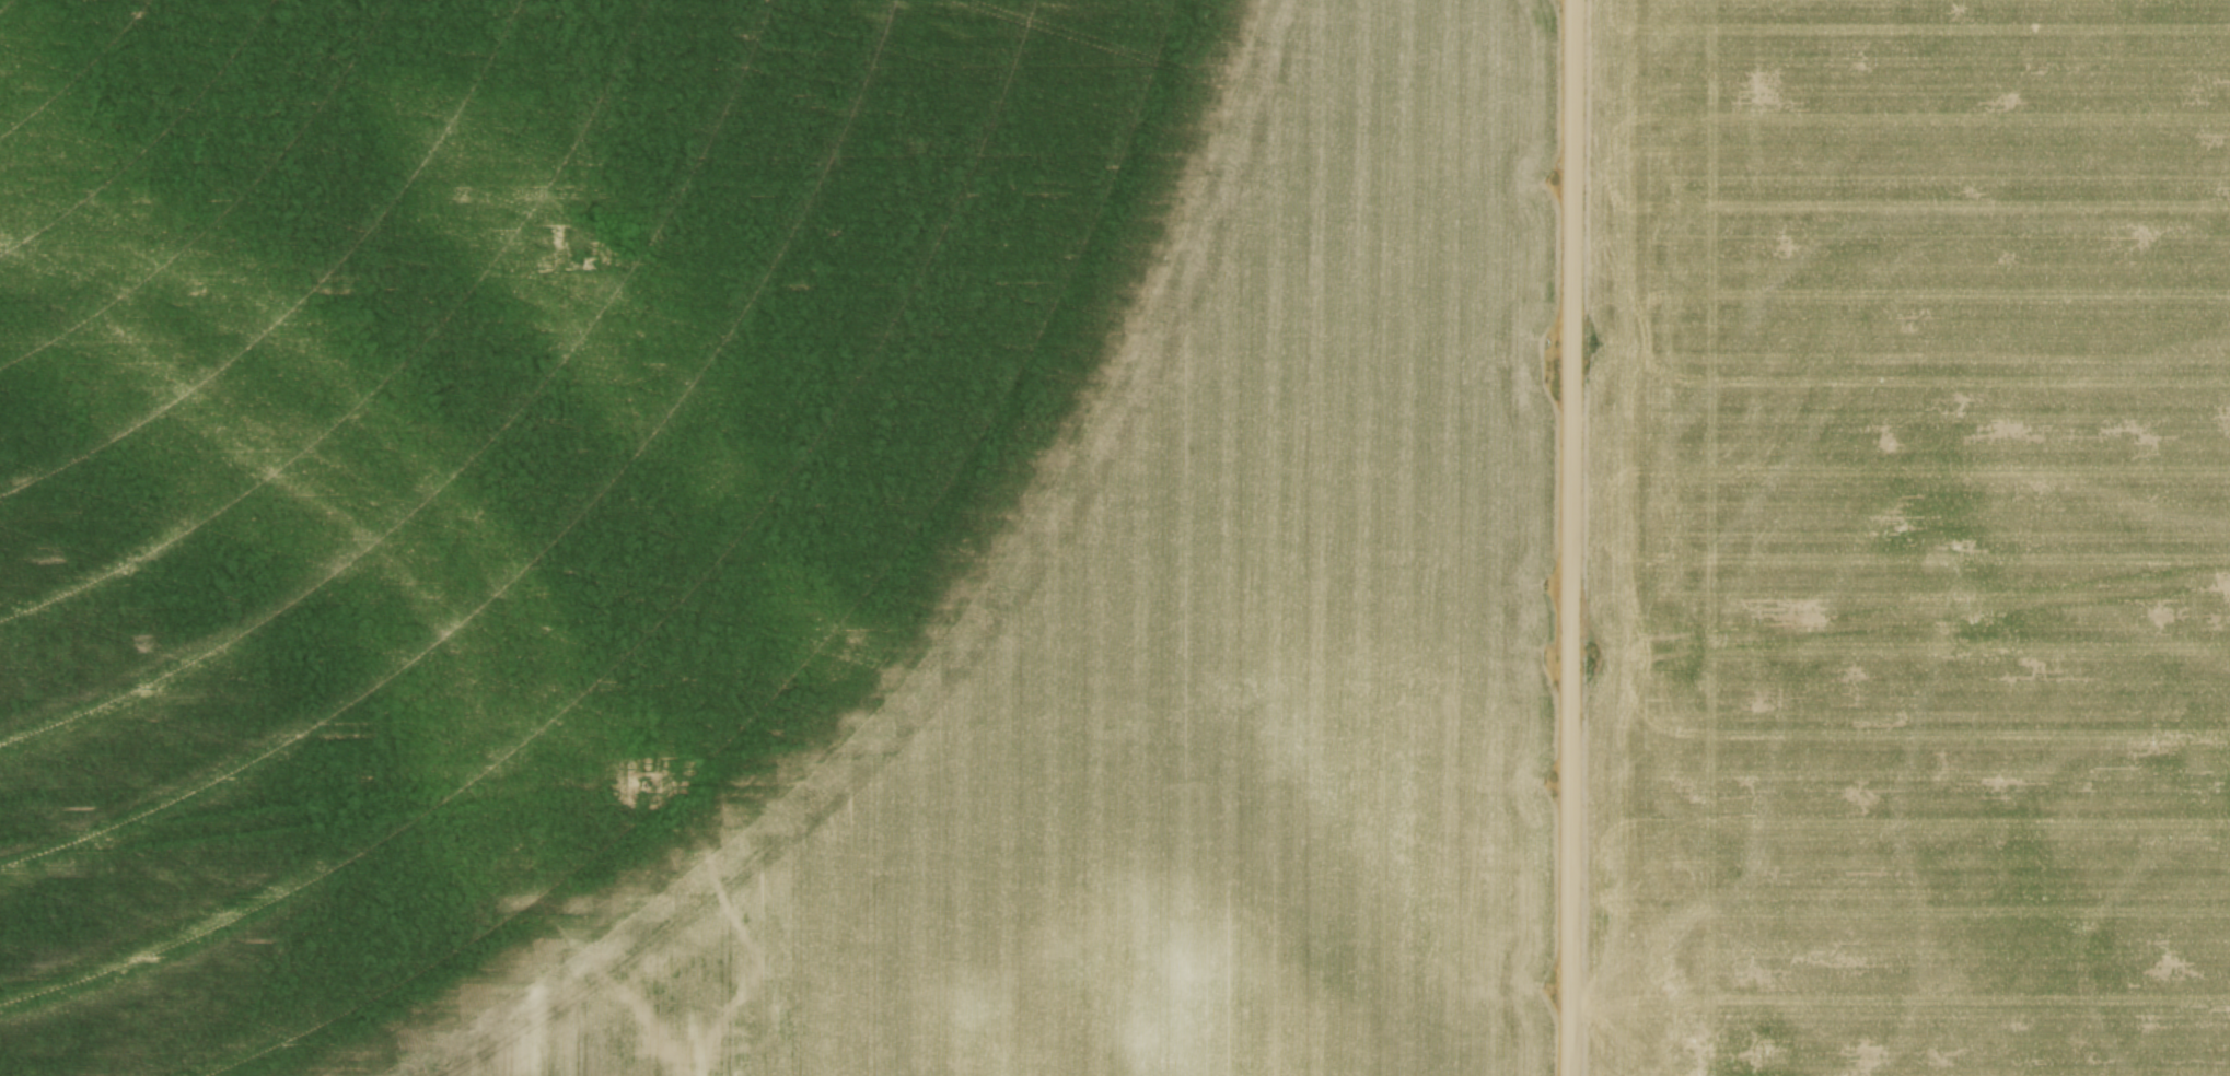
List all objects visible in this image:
crop: (775, 537)
road: (1569, 537)
crop: (1908, 538)

